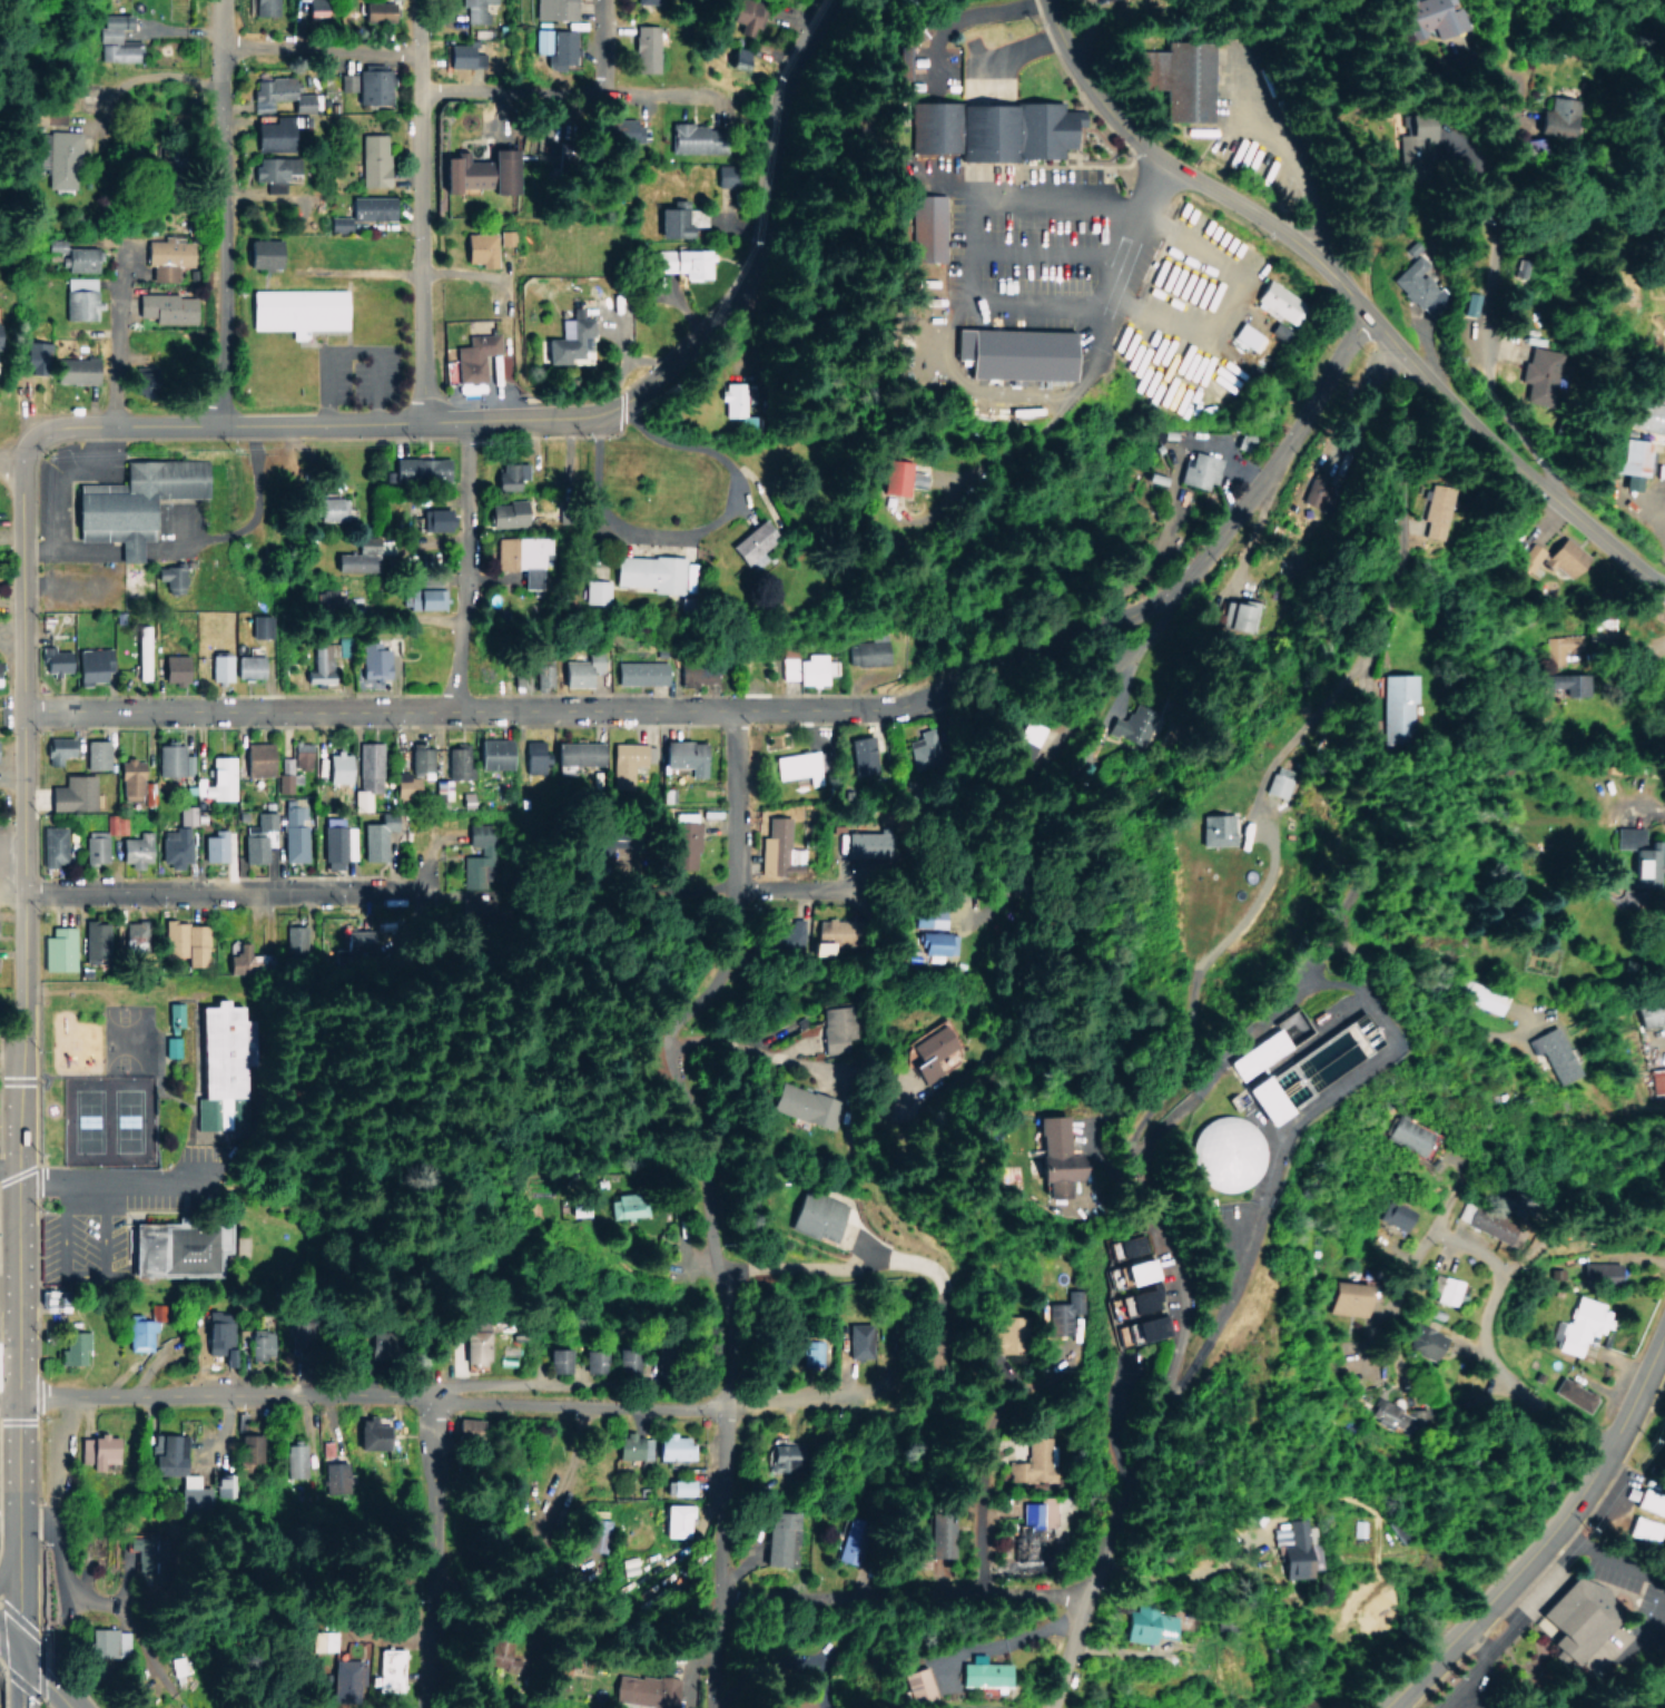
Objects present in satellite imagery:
building: (263, 7)
building: (315, 7)
building: (552, 9)
building: (373, 10)
building: (474, 10)
building: (746, 16)
building: (1418, 17)
building: (111, 26)
road: (598, 40)
road: (319, 45)
building: (552, 46)
building: (643, 48)
building: (118, 51)
building: (461, 56)
building: (1180, 77)
building: (345, 81)
building: (372, 85)
road: (510, 91)
building: (49, 116)
building: (1534, 122)
building: (615, 128)
building: (988, 128)
building: (268, 134)
building: (691, 137)
building: (1407, 140)
building: (60, 158)
building: (372, 159)
building: (269, 170)
building: (477, 171)
building: (368, 207)
road: (420, 212)
road: (220, 213)
building: (671, 219)
road: (766, 222)
building: (336, 223)
building: (923, 226)
building: (504, 236)
building: (477, 247)
road: (1134, 247)
building: (258, 253)
building: (73, 255)
building: (165, 257)
building: (684, 262)
road: (1476, 277)
road: (1348, 295)
building: (78, 297)
building: (1280, 303)
building: (165, 307)
building: (296, 310)
road: (115, 335)
building: (1245, 336)
building: (564, 337)
building: (35, 353)
building: (1009, 353)
building: (473, 355)
building: (72, 370)
building: (1536, 372)
building: (732, 400)
building: (1648, 411)
road: (549, 420)
road: (234, 426)
building: (1633, 461)
road: (10, 464)
building: (417, 468)
building: (1198, 470)
building: (510, 475)
building: (893, 475)
building: (130, 501)
road: (252, 504)
building: (328, 508)
building: (1425, 509)
building: (505, 513)
building: (432, 519)
building: (752, 541)
building: (356, 556)
building: (522, 557)
building: (1553, 557)
road: (462, 567)
building: (651, 572)
building: (168, 577)
building: (590, 591)
building: (319, 597)
building: (420, 598)
building: (1240, 615)
building: (259, 627)
building: (141, 651)
building: (867, 652)
building: (53, 660)
building: (374, 660)
building: (89, 664)
building: (319, 664)
building: (247, 666)
building: (218, 667)
building: (170, 668)
building: (807, 668)
building: (580, 669)
building: (638, 671)
building: (544, 674)
building: (697, 674)
building: (521, 676)
road: (987, 677)
building: (1564, 683)
road: (1350, 684)
building: (1395, 706)
road: (238, 710)
building: (1134, 726)
building: (1022, 747)
building: (53, 748)
building: (922, 749)
building: (544, 750)
building: (490, 753)
building: (577, 753)
building: (93, 754)
building: (531, 755)
building: (682, 755)
building: (861, 755)
building: (256, 758)
building: (418, 758)
building: (171, 760)
building: (456, 760)
building: (624, 763)
building: (292, 766)
building: (337, 766)
building: (797, 766)
building: (367, 774)
building: (215, 778)
building: (134, 783)
building: (1274, 784)
building: (404, 785)
building: (442, 789)
building: (71, 793)
building: (185, 814)
building: (116, 824)
building: (1213, 830)
building: (293, 832)
building: (374, 836)
building: (680, 838)
building: (335, 842)
building: (51, 845)
building: (171, 845)
building: (213, 845)
building: (774, 845)
building: (93, 846)
building: (134, 848)
building: (1636, 854)
road: (425, 873)
road: (211, 891)
road: (737, 893)
building: (494, 905)
building: (929, 917)
road: (22, 933)
building: (789, 936)
building: (135, 938)
building: (294, 939)
building: (93, 940)
building: (187, 941)
building: (825, 942)
building: (935, 942)
building: (58, 949)
building: (238, 952)
building: (1481, 995)
building: (1651, 1011)
building: (175, 1013)
building: (834, 1028)
park: (122, 1034)
building: (169, 1046)
road: (732, 1046)
building: (930, 1051)
building: (1553, 1052)
building: (1313, 1054)
building: (216, 1066)
building: (1656, 1079)
building: (1249, 1100)
building: (798, 1102)
park: (436, 1106)
park: (105, 1116)
building: (1407, 1135)
building: (1213, 1152)
building: (1052, 1158)
road: (1123, 1179)
road: (119, 1181)
road: (701, 1188)
building: (628, 1206)
building: (1396, 1214)
building: (816, 1215)
building: (1485, 1220)
road: (1426, 1238)
building: (178, 1246)
building: (1131, 1272)
building: (1597, 1273)
building: (1446, 1289)
building: (1343, 1297)
building: (1134, 1302)
building: (1063, 1312)
building: (1584, 1324)
building: (219, 1329)
building: (1140, 1329)
building: (138, 1332)
building: (991, 1338)
building: (260, 1341)
building: (475, 1341)
building: (1425, 1341)
building: (71, 1347)
building: (811, 1352)
building: (556, 1359)
building: (629, 1359)
building: (594, 1361)
road: (1488, 1363)
road: (542, 1377)
building: (1572, 1394)
road: (9, 1397)
road: (224, 1397)
road: (649, 1400)
building: (1396, 1415)
building: (466, 1426)
building: (366, 1434)
building: (631, 1446)
building: (324, 1447)
building: (673, 1447)
building: (99, 1449)
building: (249, 1449)
building: (781, 1456)
building: (293, 1460)
road: (18, 1461)
building: (1034, 1462)
building: (188, 1474)
building: (332, 1476)
building: (678, 1486)
building: (1646, 1501)
road: (983, 1510)
building: (677, 1520)
road: (9, 1524)
building: (1638, 1529)
building: (1028, 1532)
building: (597, 1534)
road: (1549, 1535)
building: (780, 1538)
building: (928, 1541)
road: (1101, 1541)
road: (428, 1543)
building: (1293, 1548)
building: (625, 1564)
road: (18, 1587)
road: (753, 1611)
building: (1573, 1619)
road: (377, 1620)
building: (1146, 1624)
building: (314, 1640)
road: (9, 1641)
building: (104, 1641)
road: (1070, 1651)
building: (489, 1656)
building: (385, 1669)
building: (968, 1673)
road: (1599, 1676)
road: (18, 1678)
road: (43, 1678)
building: (899, 1687)
building: (652, 1688)

